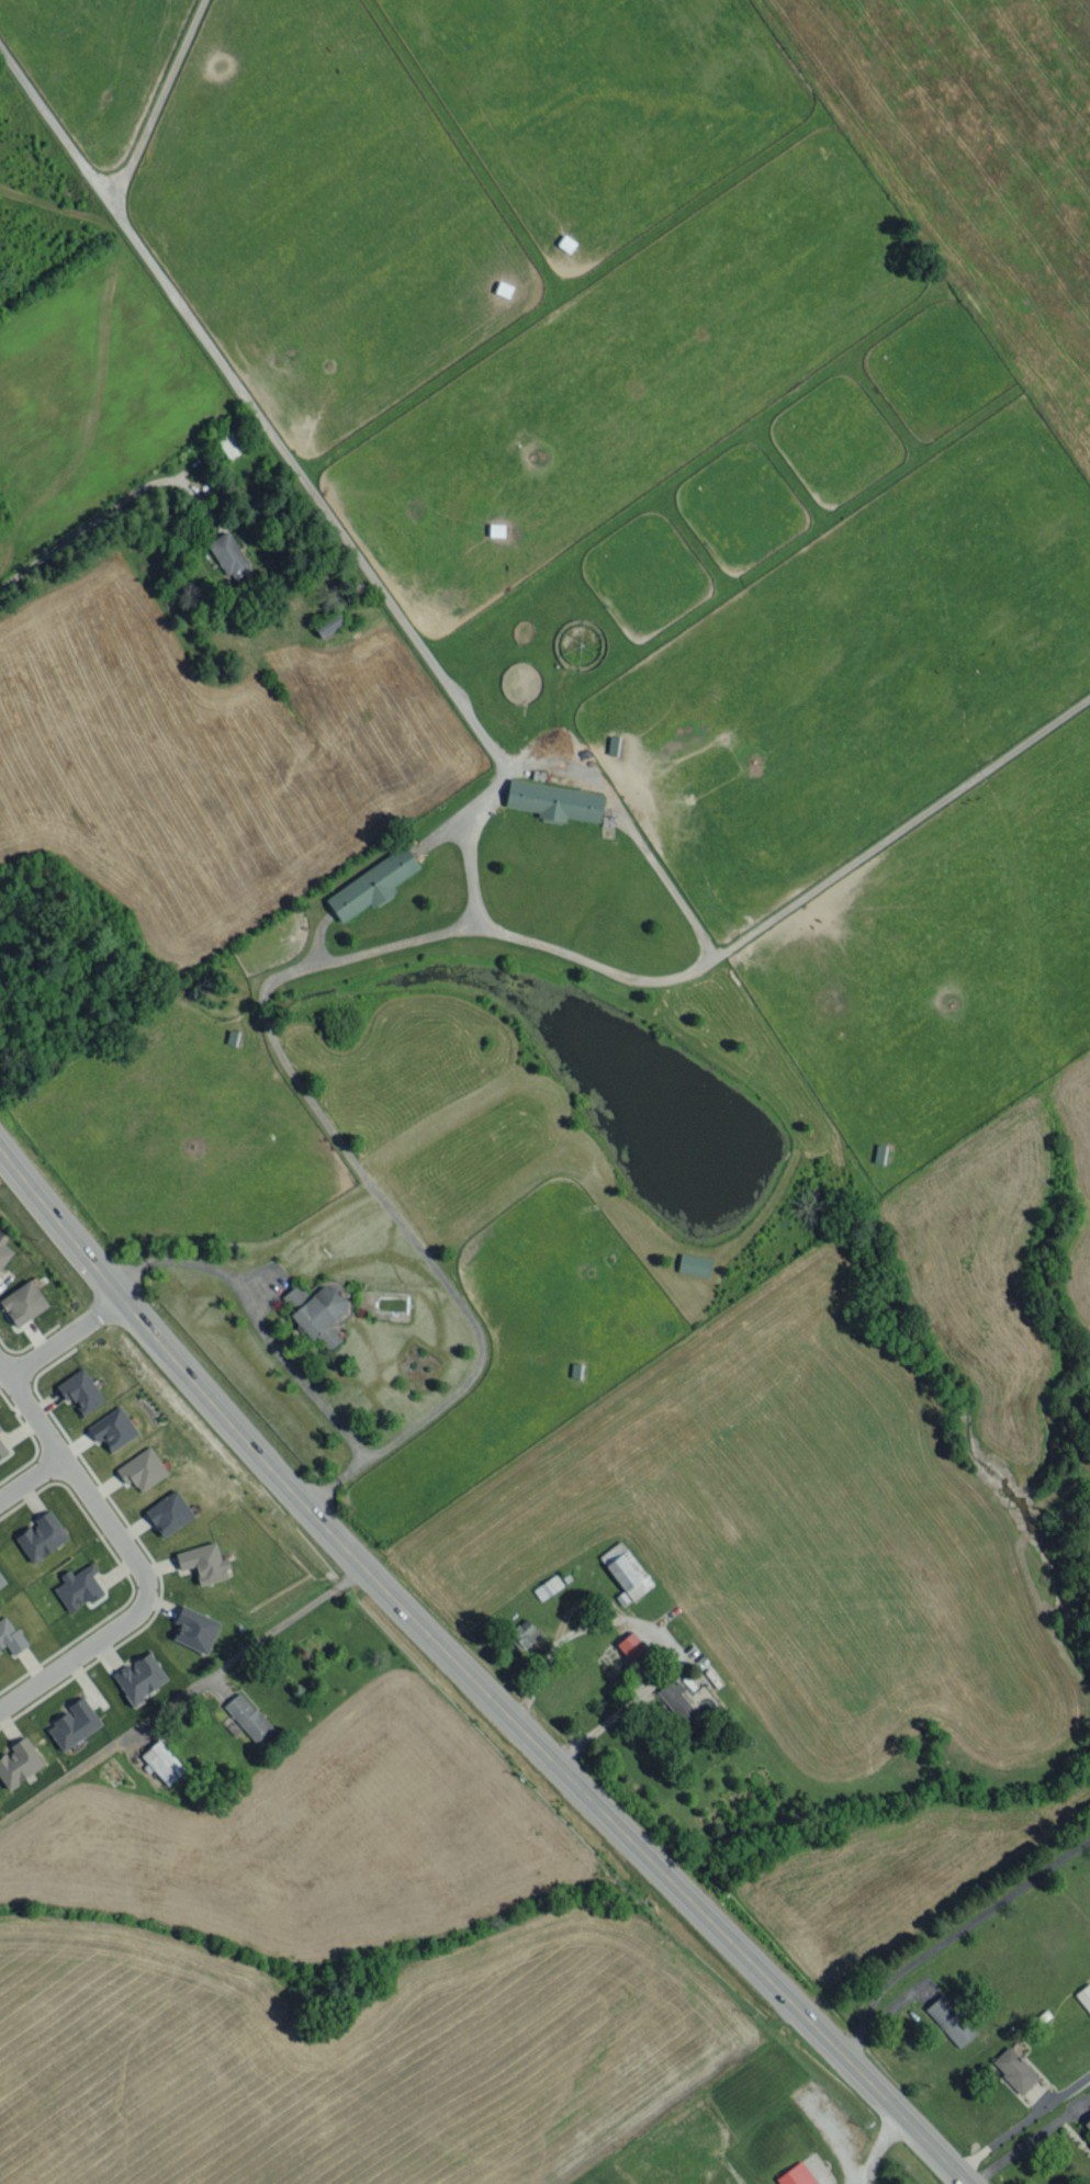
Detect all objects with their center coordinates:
road: (297, 475)
road: (110, 508)
building: (228, 554)
building: (328, 624)
building: (554, 801)
building: (372, 883)
road: (350, 953)
building: (3, 1249)
building: (694, 1264)
building: (23, 1302)
building: (316, 1310)
road: (254, 1318)
road: (58, 1339)
road: (4, 1375)
building: (80, 1391)
road: (35, 1415)
building: (112, 1428)
building: (0, 1440)
building: (142, 1468)
road: (30, 1479)
road: (334, 1482)
building: (168, 1512)
building: (41, 1535)
building: (203, 1563)
building: (626, 1569)
building: (1, 1580)
building: (77, 1586)
road: (142, 1607)
building: (194, 1629)
road: (649, 1630)
building: (524, 1633)
building: (10, 1635)
building: (630, 1645)
road: (472, 1674)
building: (139, 1677)
road: (178, 1697)
building: (675, 1700)
building: (248, 1716)
building: (74, 1723)
building: (19, 1761)
road: (951, 1936)
building: (1085, 1996)
building: (949, 2020)
building: (1013, 2069)
building: (1087, 2126)
road: (1000, 2137)
road: (1027, 2140)
road: (880, 2151)
building: (796, 2175)

